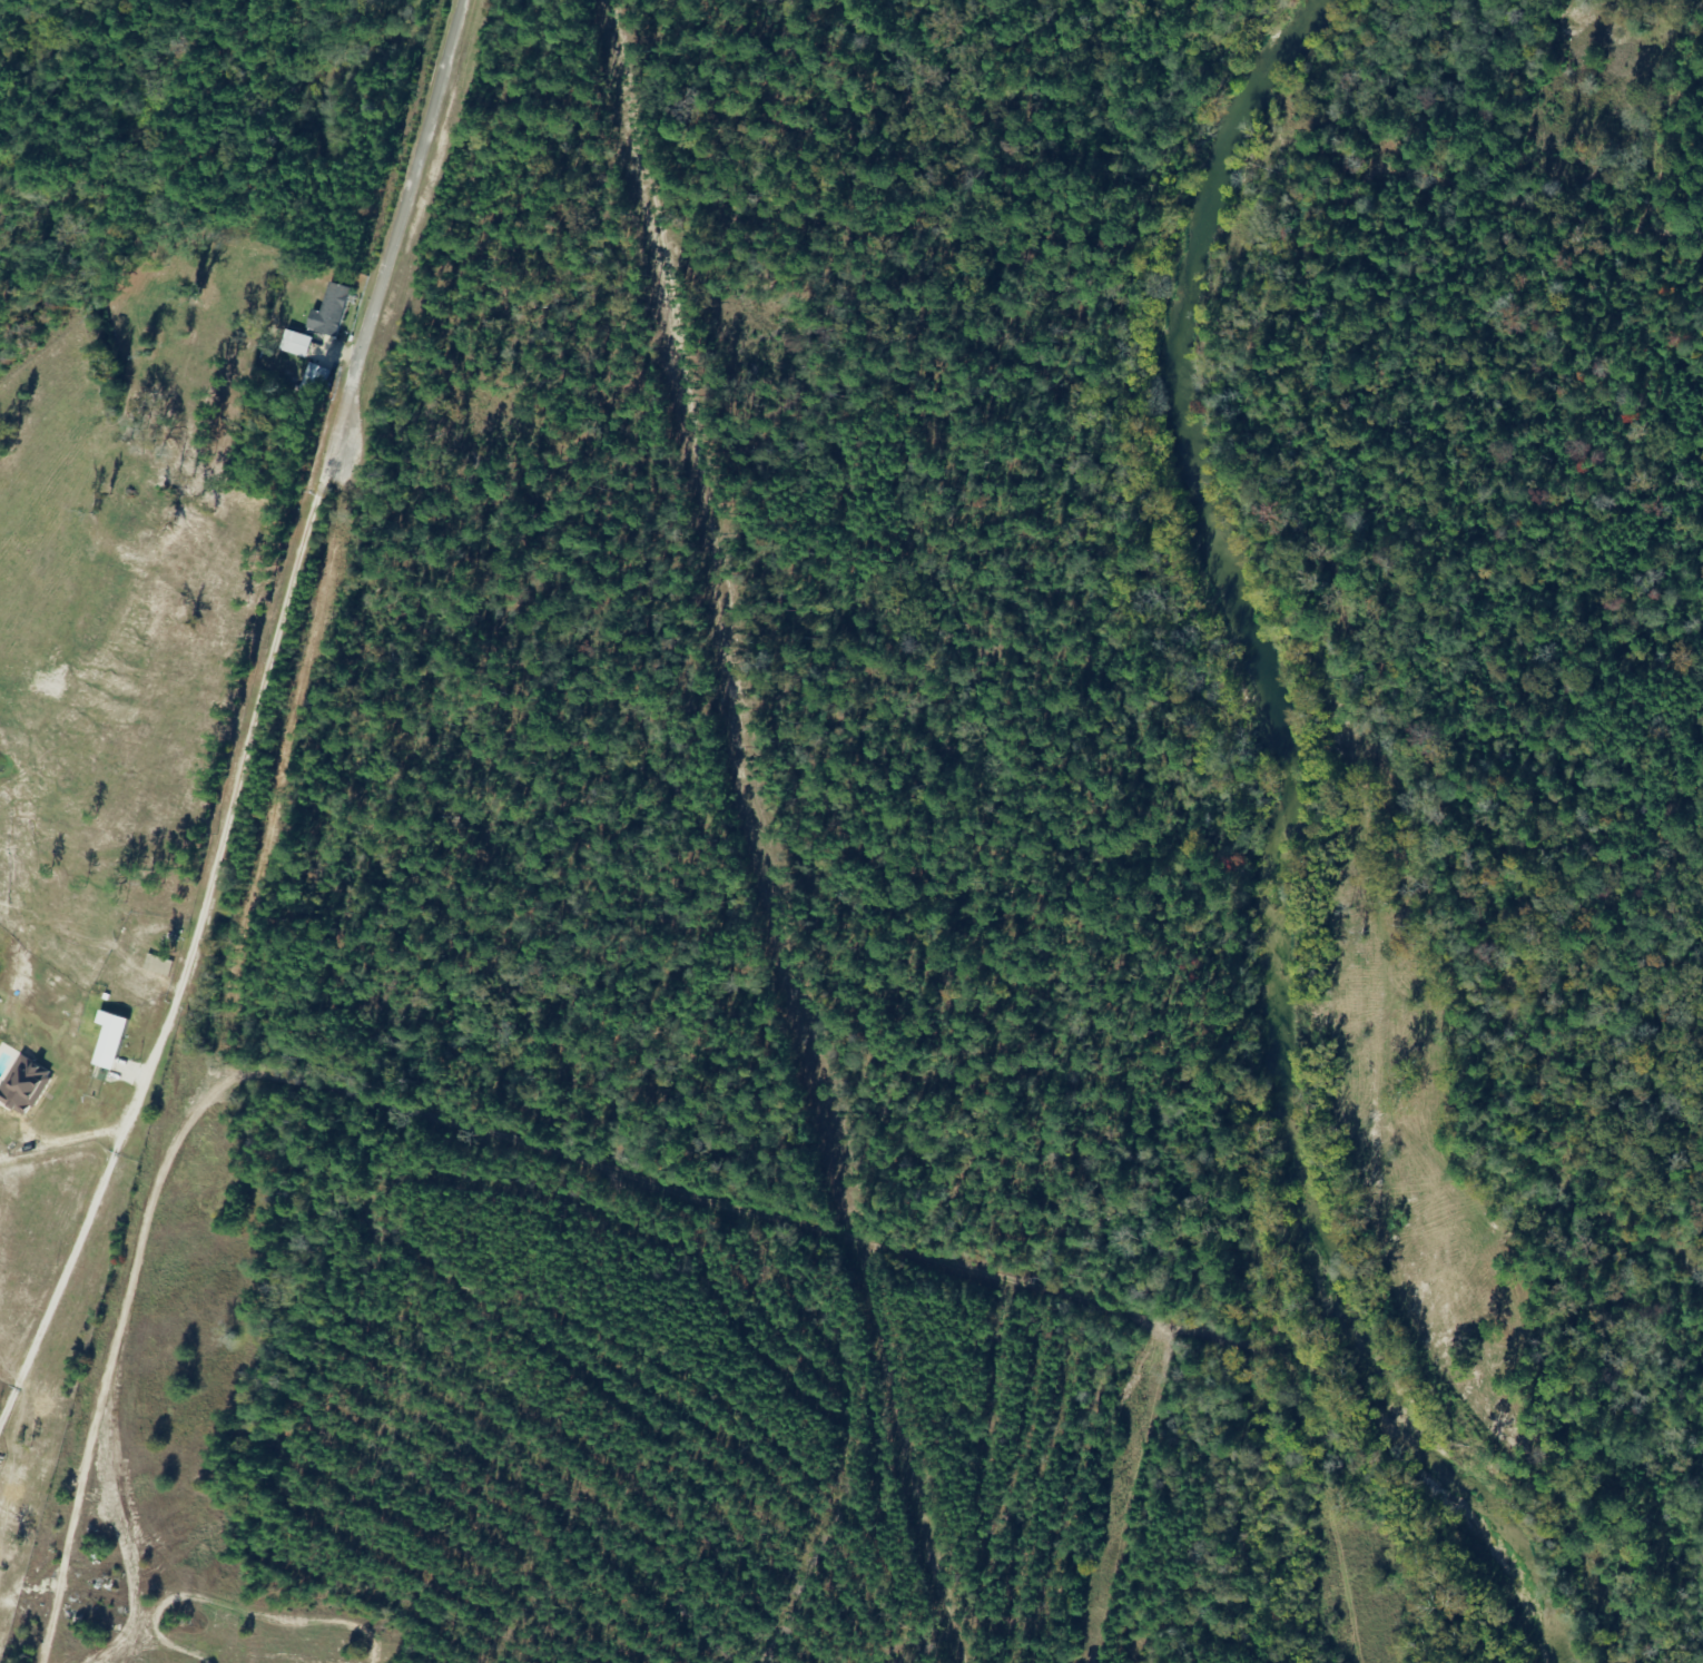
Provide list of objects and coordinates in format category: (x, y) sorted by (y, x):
road: (1667, 109)
road: (1682, 226)
building: (328, 311)
building: (315, 378)
building: (152, 970)

